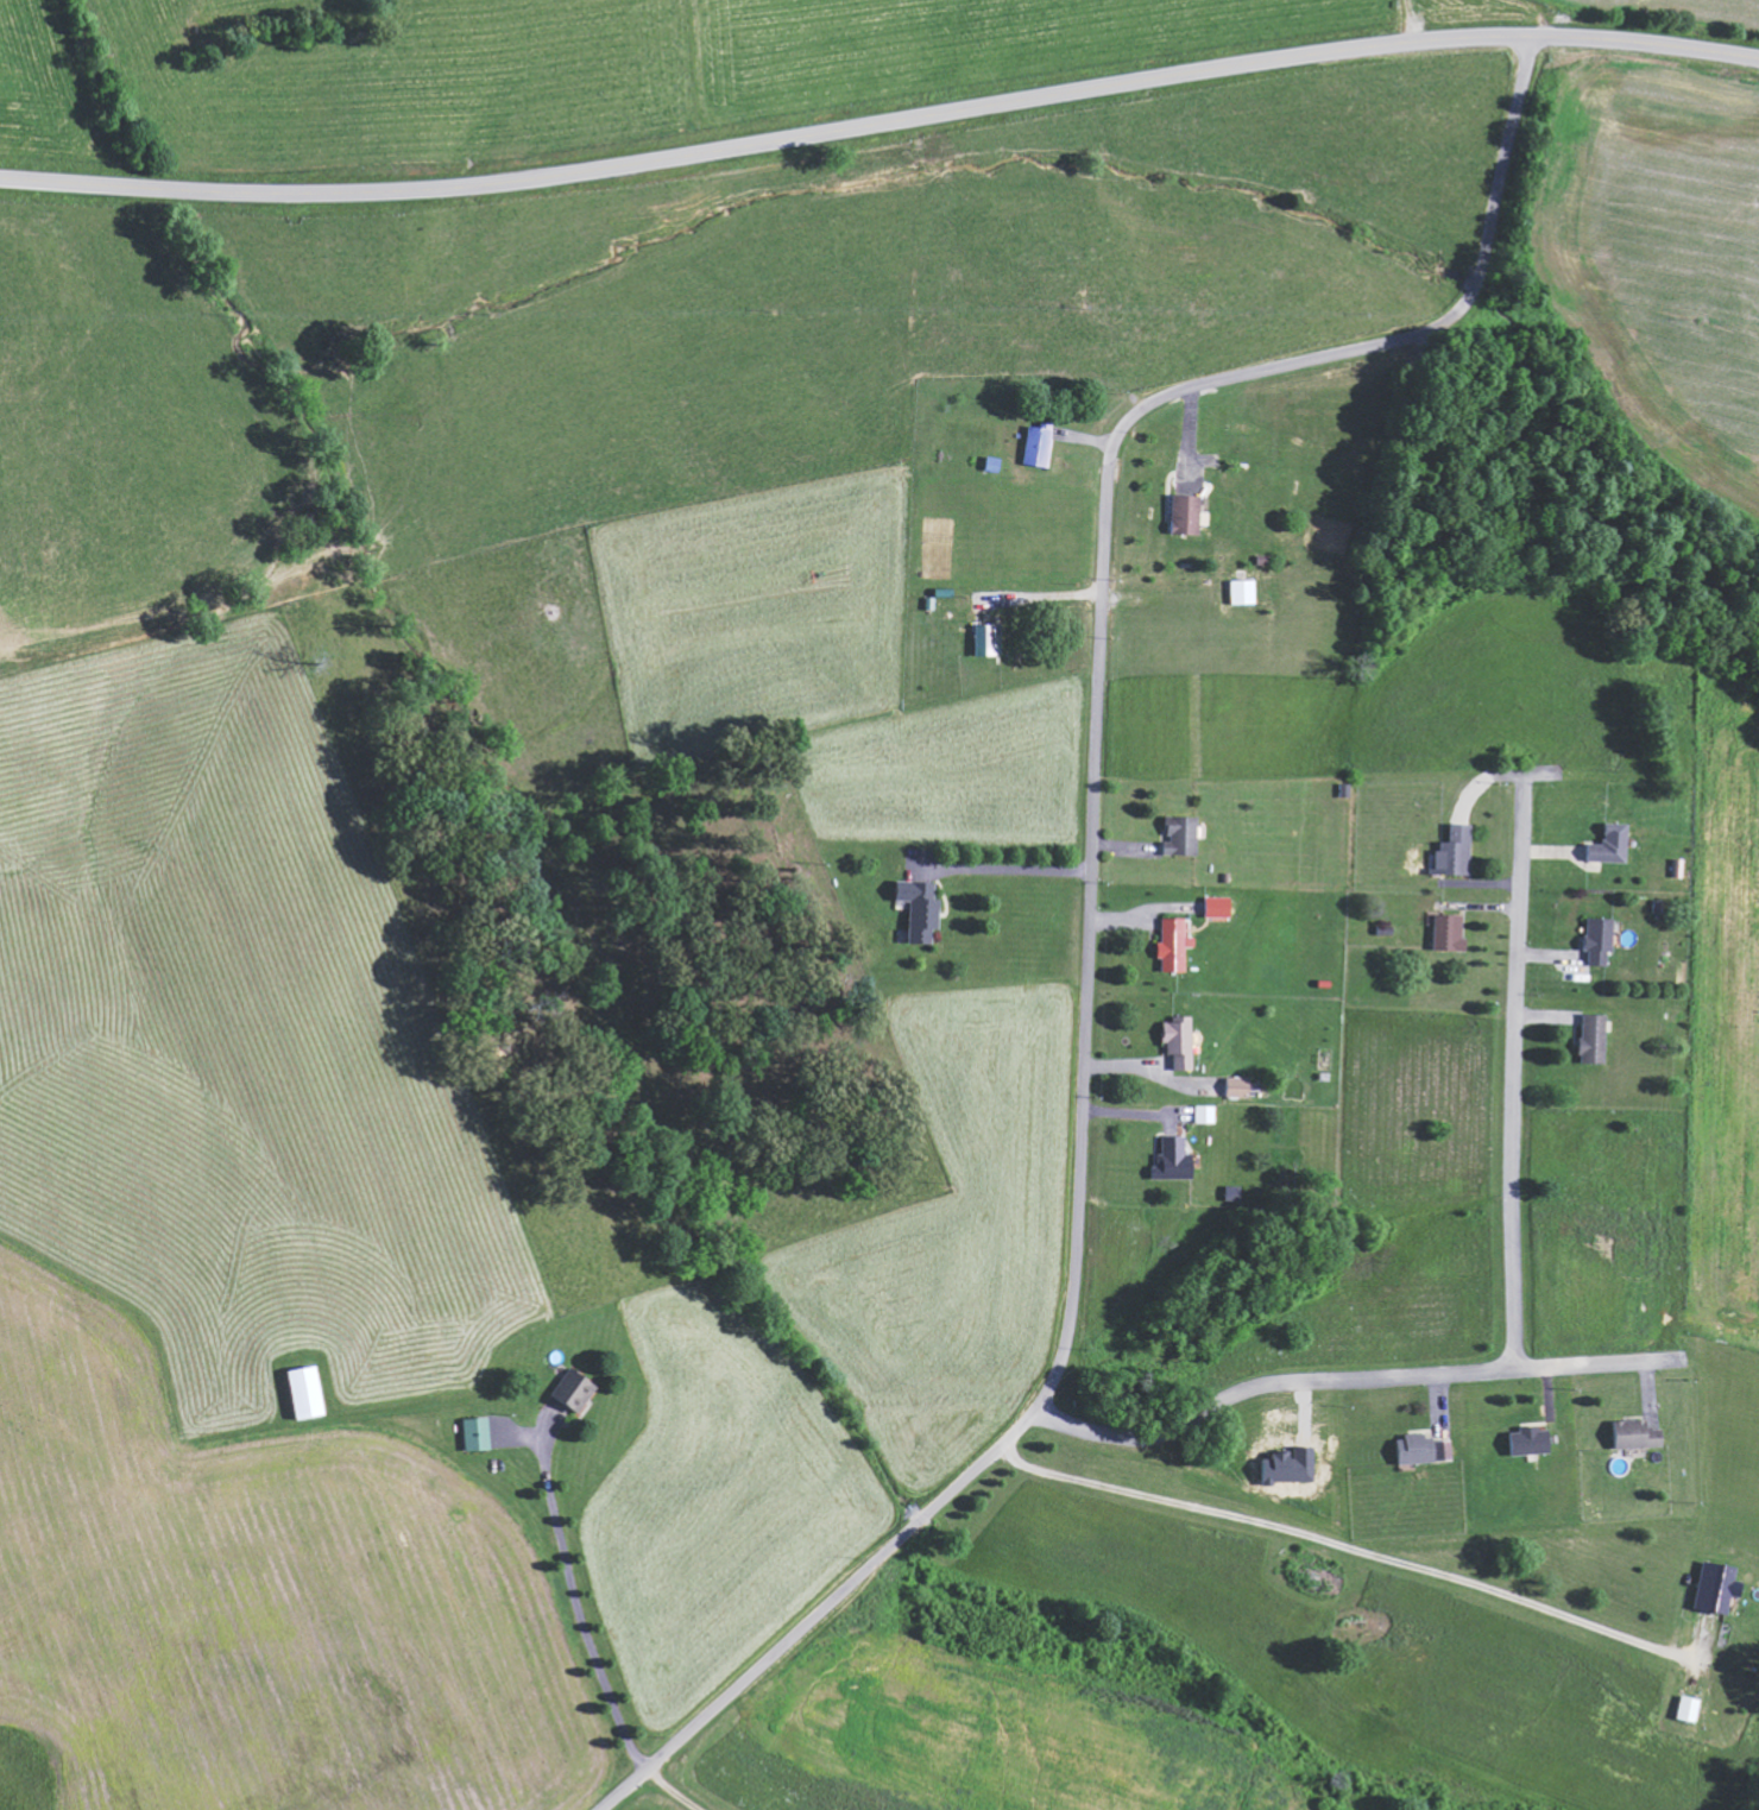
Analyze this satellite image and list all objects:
road: (1537, 18)
road: (879, 124)
building: (1039, 446)
building: (1187, 513)
building: (1244, 591)
building: (986, 639)
building: (1183, 835)
building: (1610, 845)
building: (1455, 852)
road: (1090, 894)
building: (1218, 907)
building: (921, 909)
building: (1450, 933)
building: (1600, 940)
building: (1174, 944)
building: (1595, 1039)
building: (1181, 1041)
building: (1240, 1086)
building: (1206, 1114)
building: (1174, 1160)
building: (575, 1388)
building: (308, 1390)
building: (478, 1432)
building: (1637, 1433)
building: (1531, 1439)
building: (1426, 1449)
building: (1716, 1585)
building: (1690, 1707)

